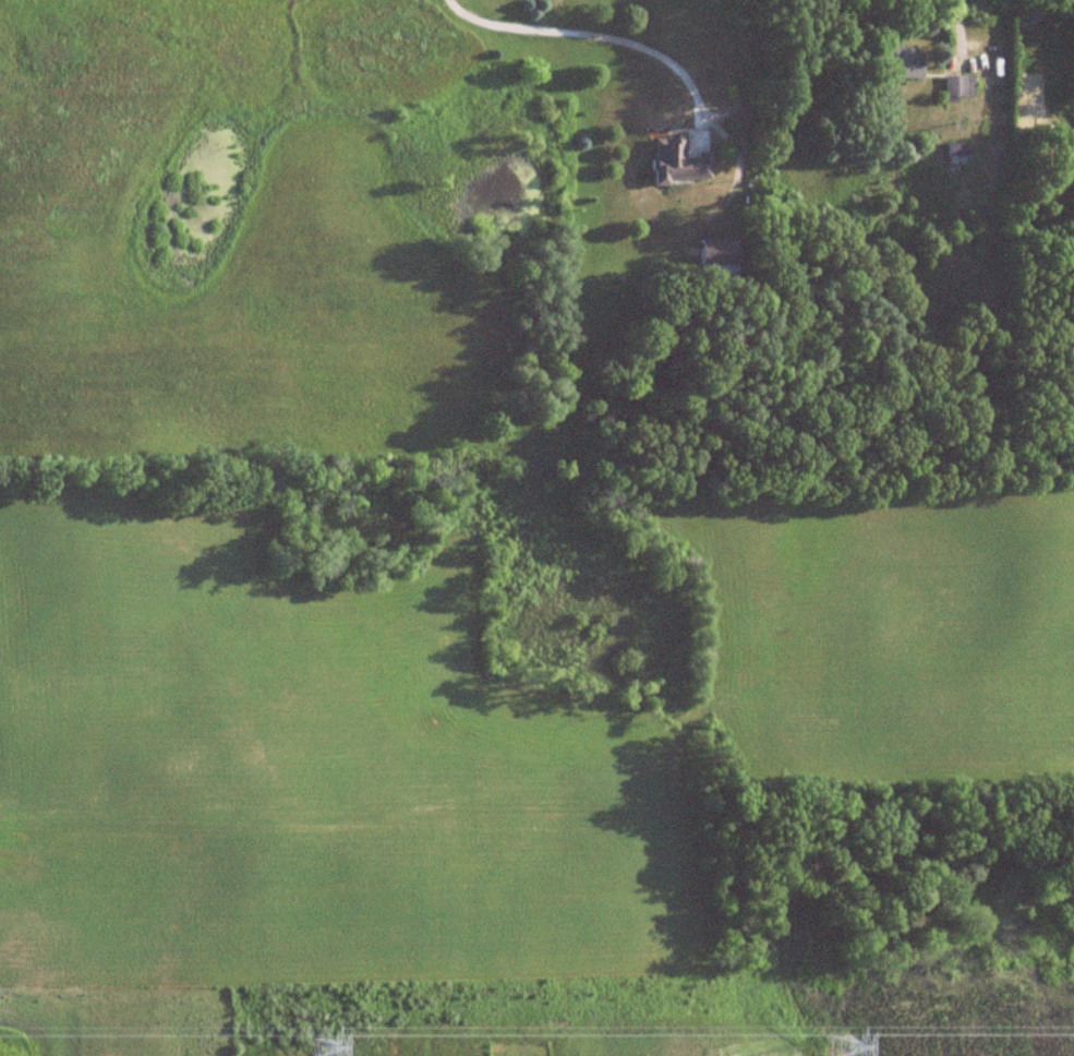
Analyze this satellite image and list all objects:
road: (657, 55)
building: (901, 63)
building: (958, 87)
building: (955, 155)
building: (676, 163)
building: (717, 257)

